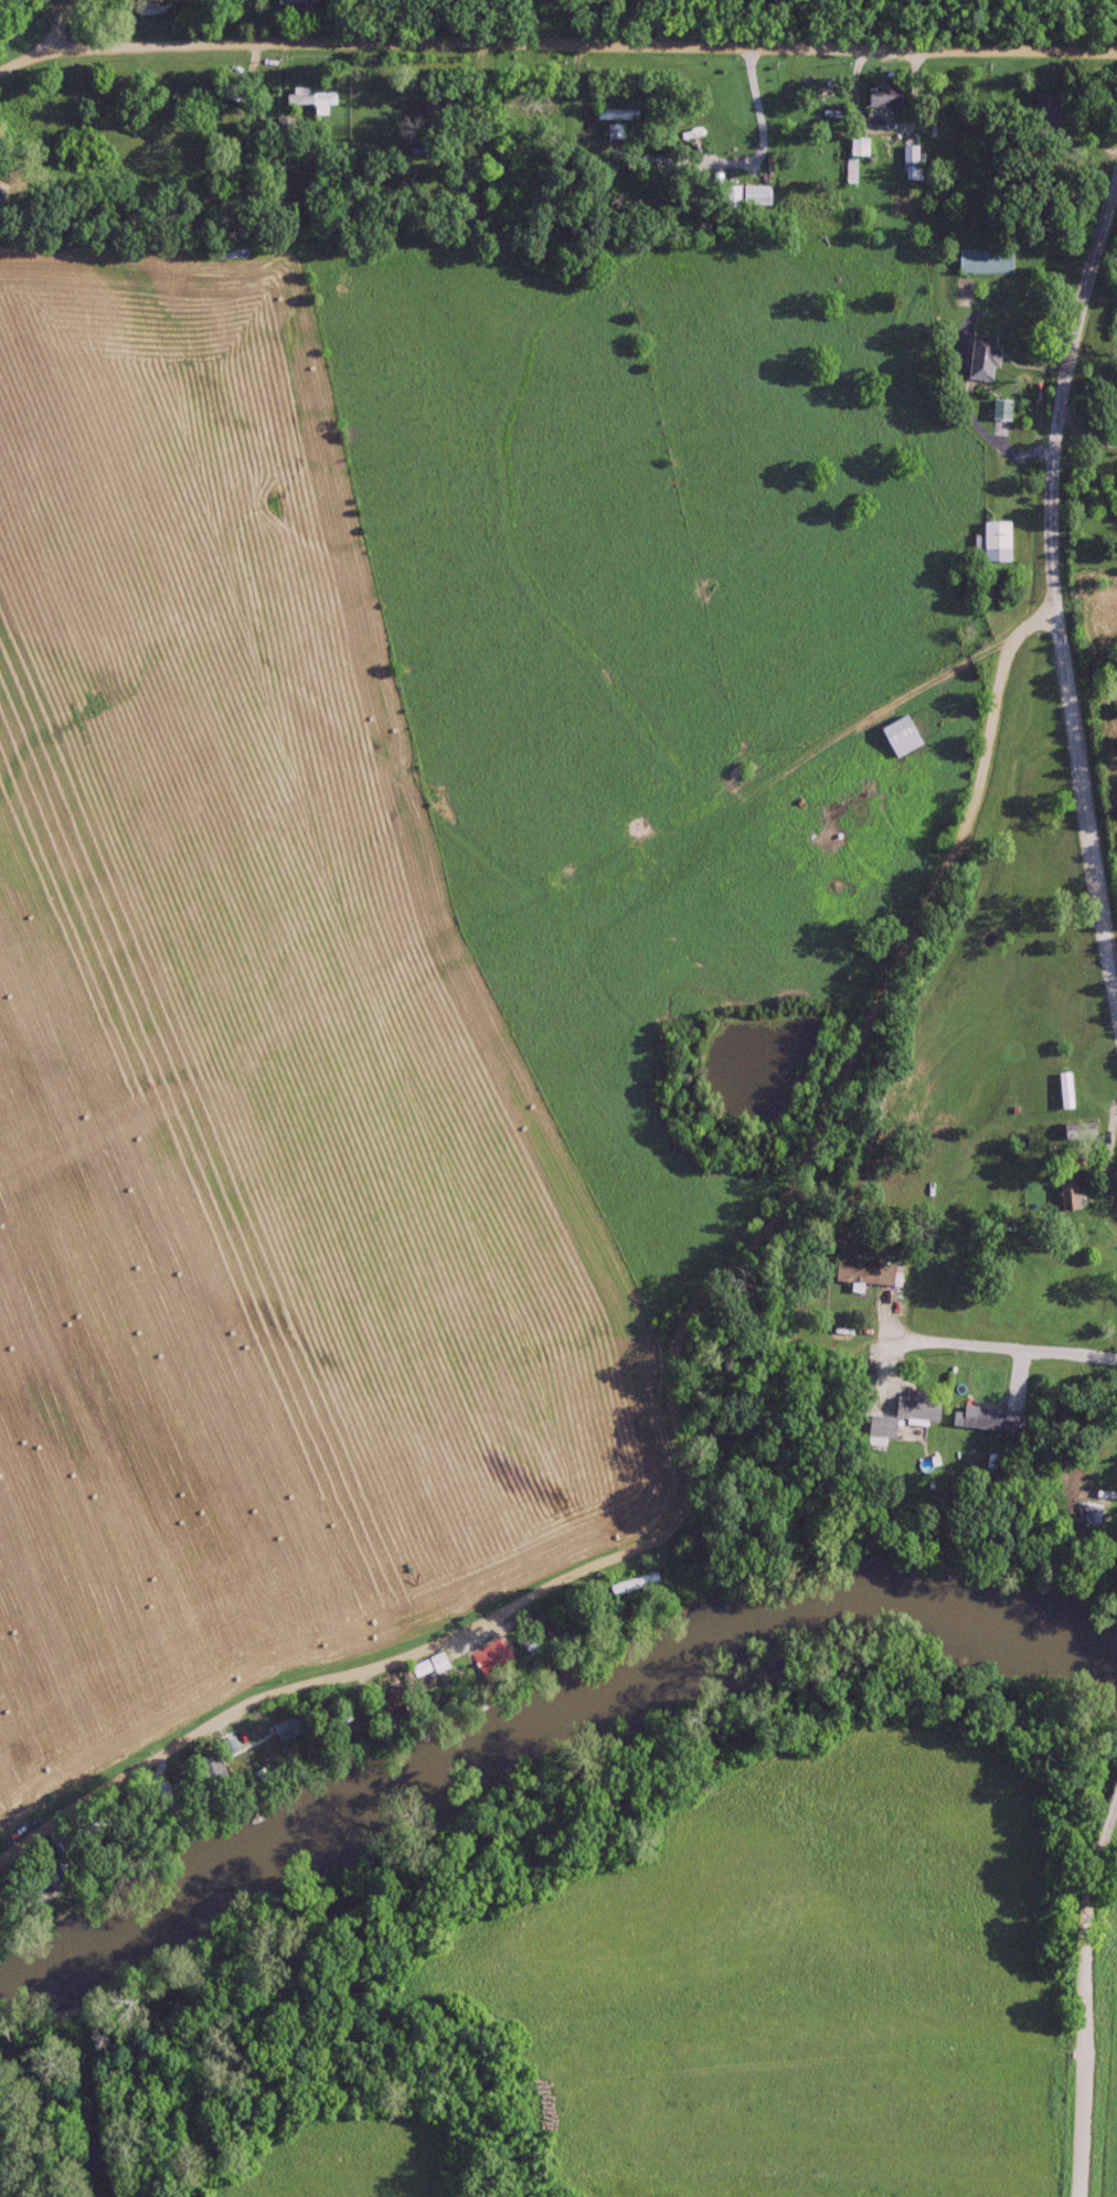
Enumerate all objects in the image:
building: (147, 10)
road: (44, 28)
road: (571, 41)
road: (12, 58)
building: (880, 99)
building: (307, 102)
building: (430, 108)
building: (534, 109)
building: (602, 115)
building: (1041, 115)
building: (280, 126)
building: (609, 134)
building: (850, 158)
building: (906, 164)
building: (743, 196)
building: (221, 250)
building: (982, 263)
building: (979, 359)
building: (999, 410)
building: (992, 544)
road: (1056, 583)
building: (895, 738)
building: (1063, 1091)
building: (1063, 1193)
building: (863, 1273)
road: (933, 1335)
road: (726, 1411)
building: (901, 1415)
building: (983, 1419)
building: (628, 1585)
building: (485, 1656)
building: (430, 1663)
road: (1109, 1800)
road: (1088, 2008)

